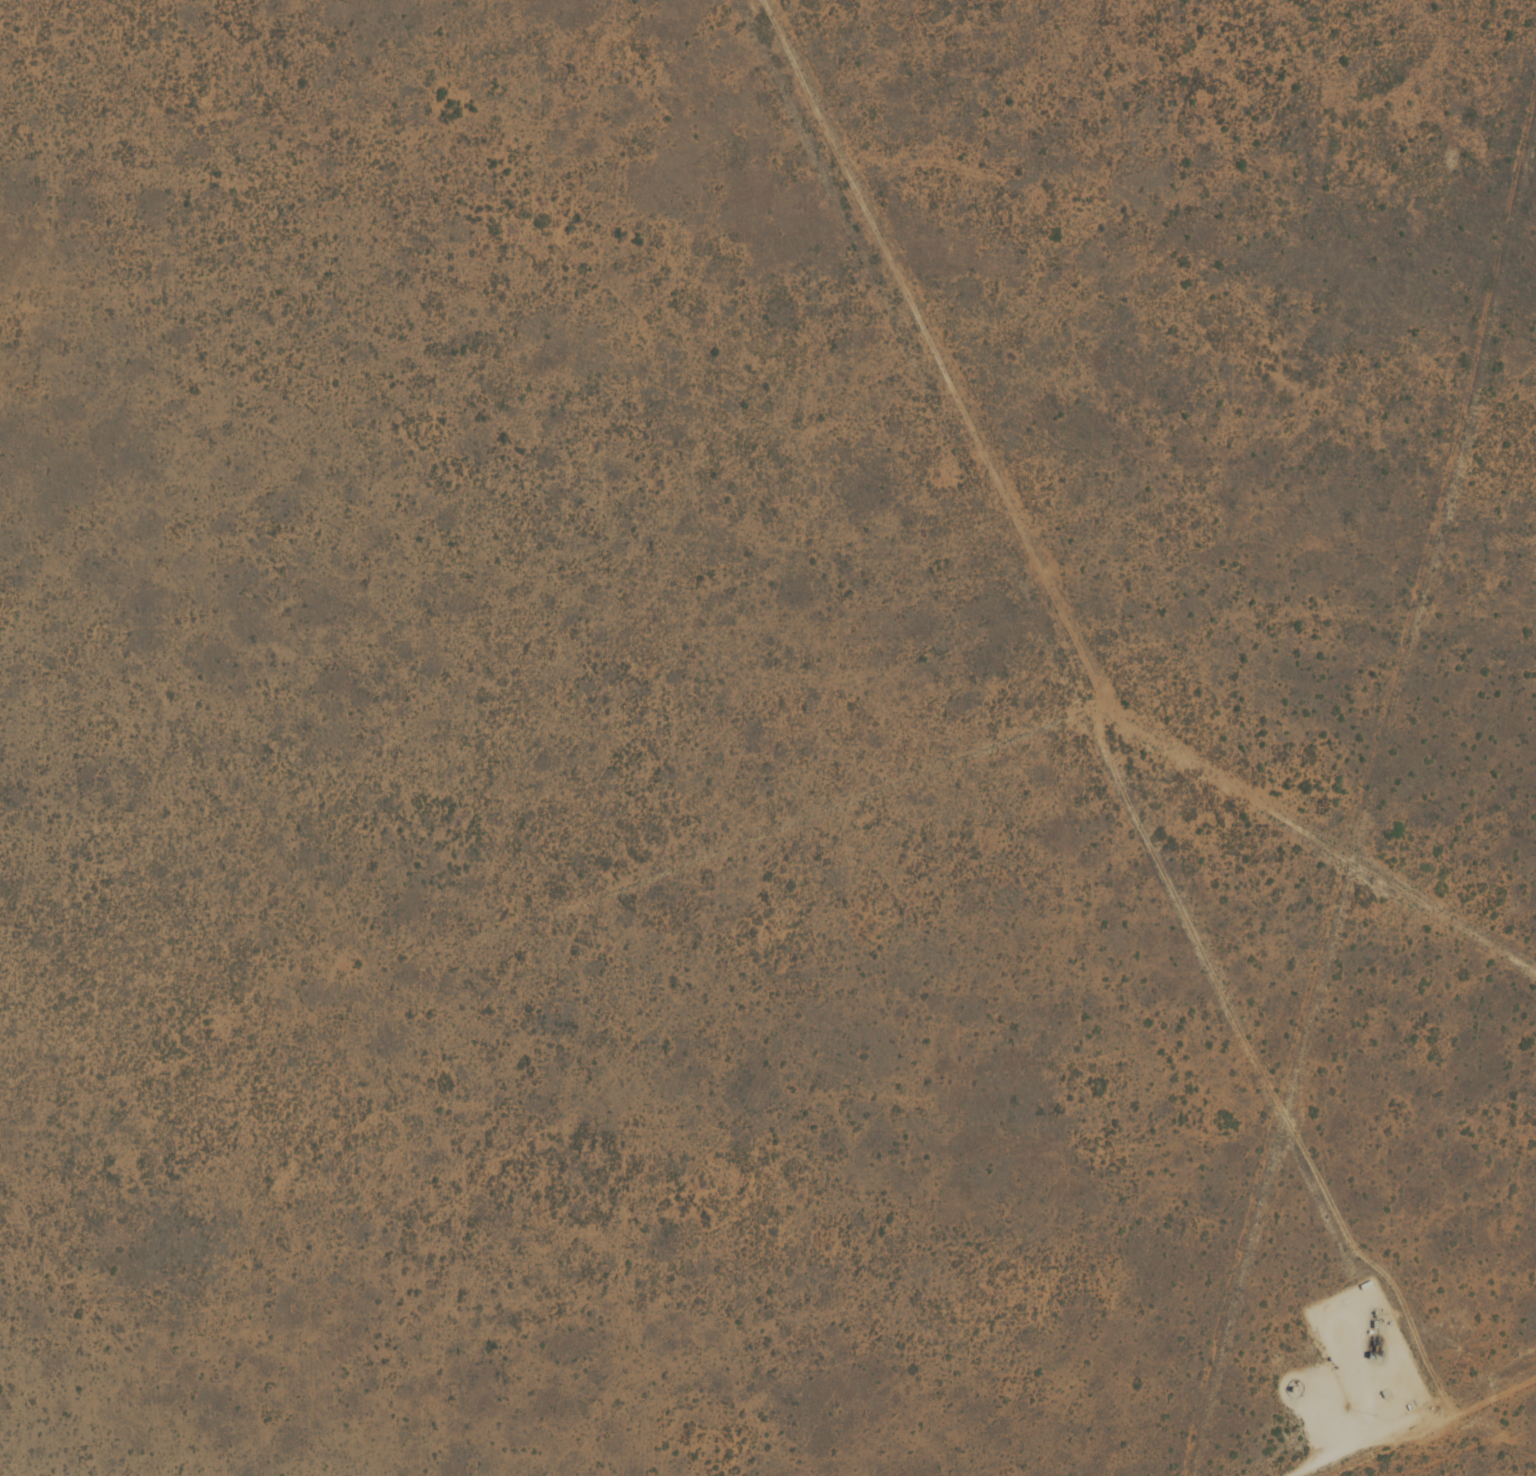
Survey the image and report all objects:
road: (1432, 1423)

